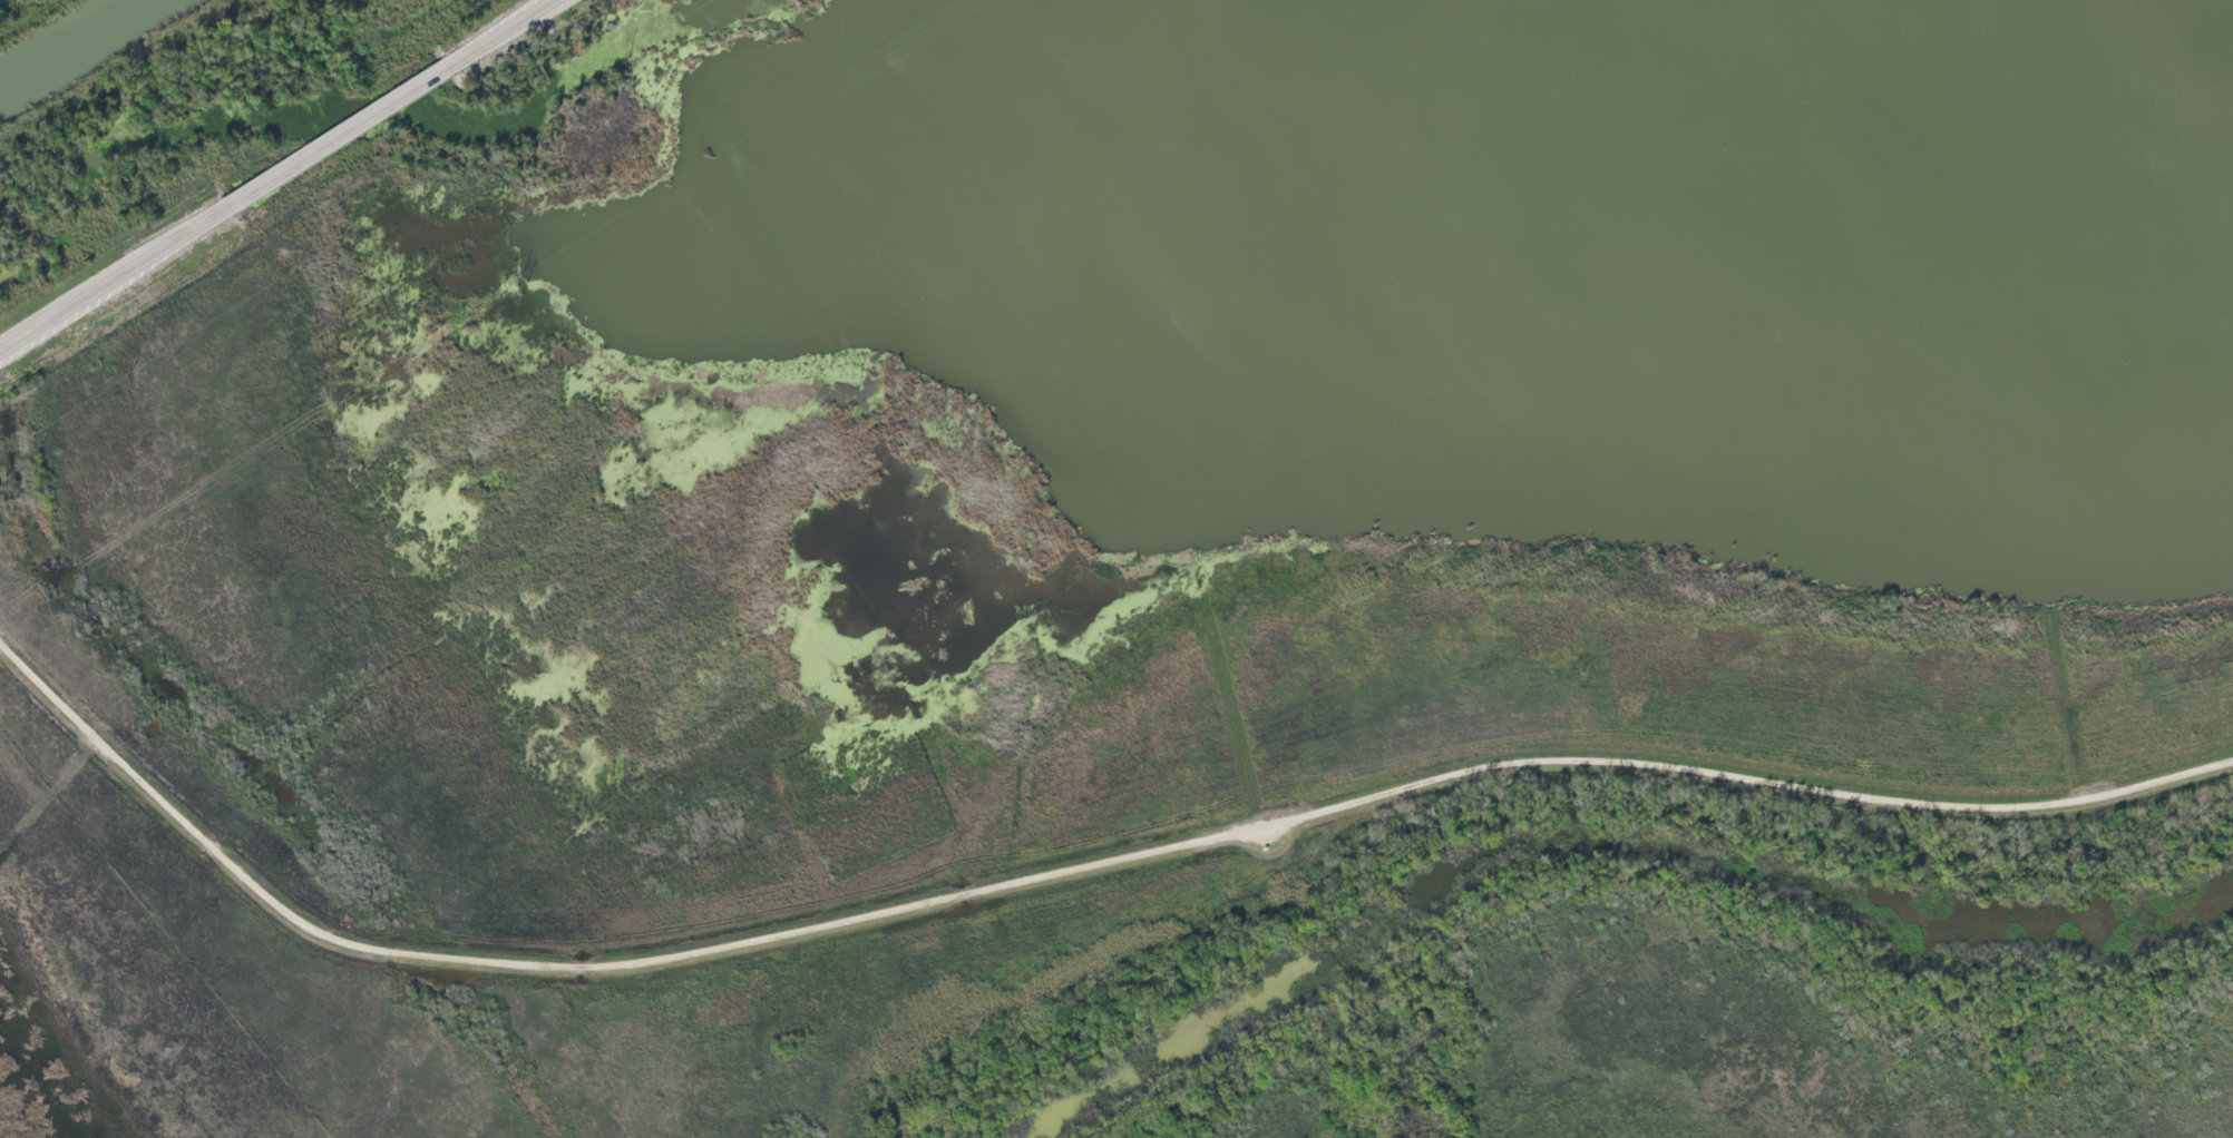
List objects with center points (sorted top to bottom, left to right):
road: (501, 33)
road: (338, 137)
road: (113, 281)
power tower: (519, 291)
power tower: (48, 591)
road: (1062, 865)

